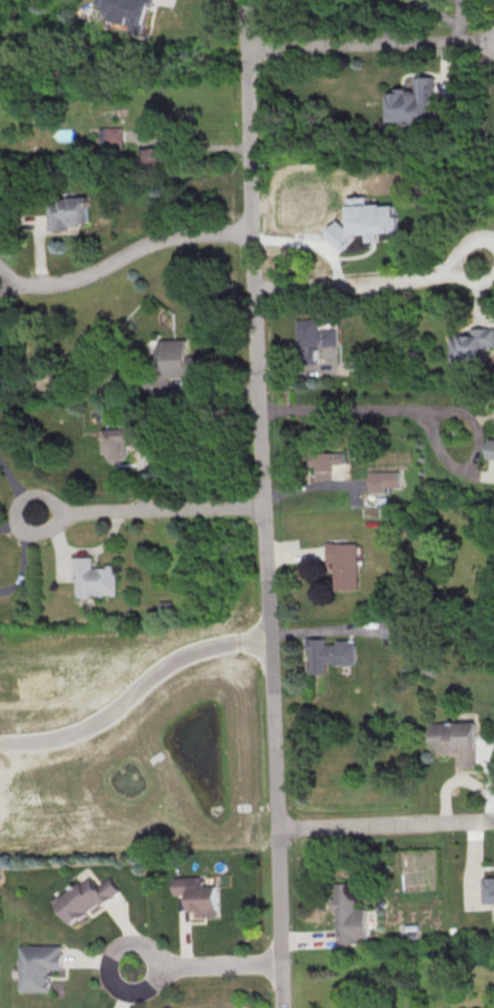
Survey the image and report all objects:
building: (129, 11)
road: (370, 42)
building: (414, 101)
building: (110, 136)
road: (185, 145)
building: (155, 156)
building: (68, 212)
building: (367, 224)
road: (486, 254)
road: (123, 255)
road: (365, 280)
building: (309, 341)
building: (471, 346)
building: (168, 366)
road: (300, 369)
road: (212, 393)
road: (392, 409)
building: (123, 441)
building: (490, 448)
building: (323, 464)
building: (380, 480)
road: (313, 485)
road: (16, 489)
road: (263, 503)
road: (149, 510)
road: (29, 542)
road: (294, 555)
building: (341, 565)
building: (92, 578)
building: (387, 628)
road: (323, 630)
building: (326, 656)
road: (133, 690)
building: (452, 741)
road: (385, 823)
building: (486, 890)
building: (197, 896)
building: (84, 897)
building: (345, 915)
road: (306, 939)
road: (205, 965)
building: (37, 966)
building: (354, 1007)

